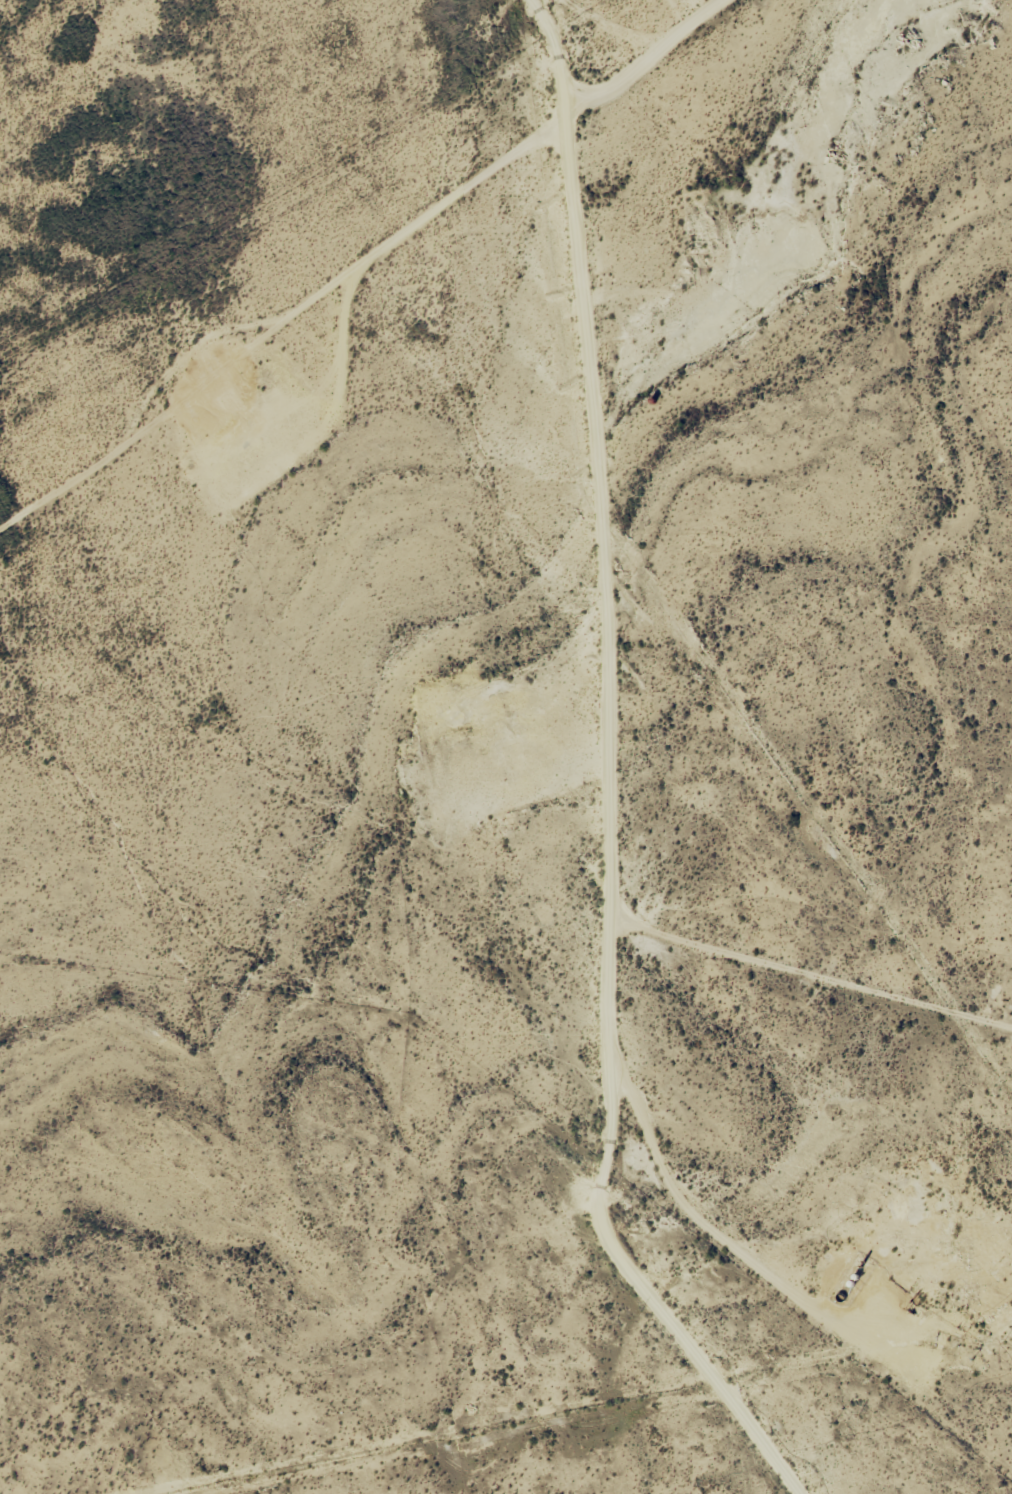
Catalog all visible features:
road: (388, 274)
road: (595, 761)

